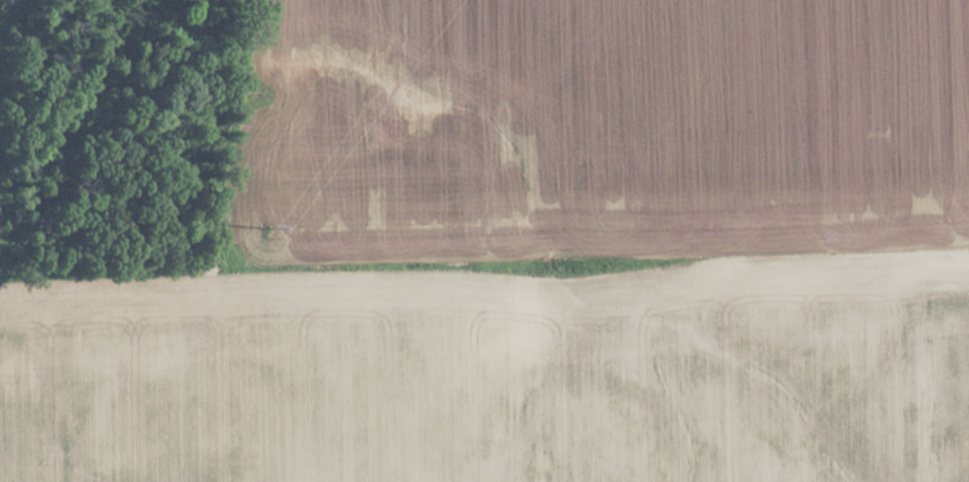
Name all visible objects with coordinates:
power tower: (268, 231)

